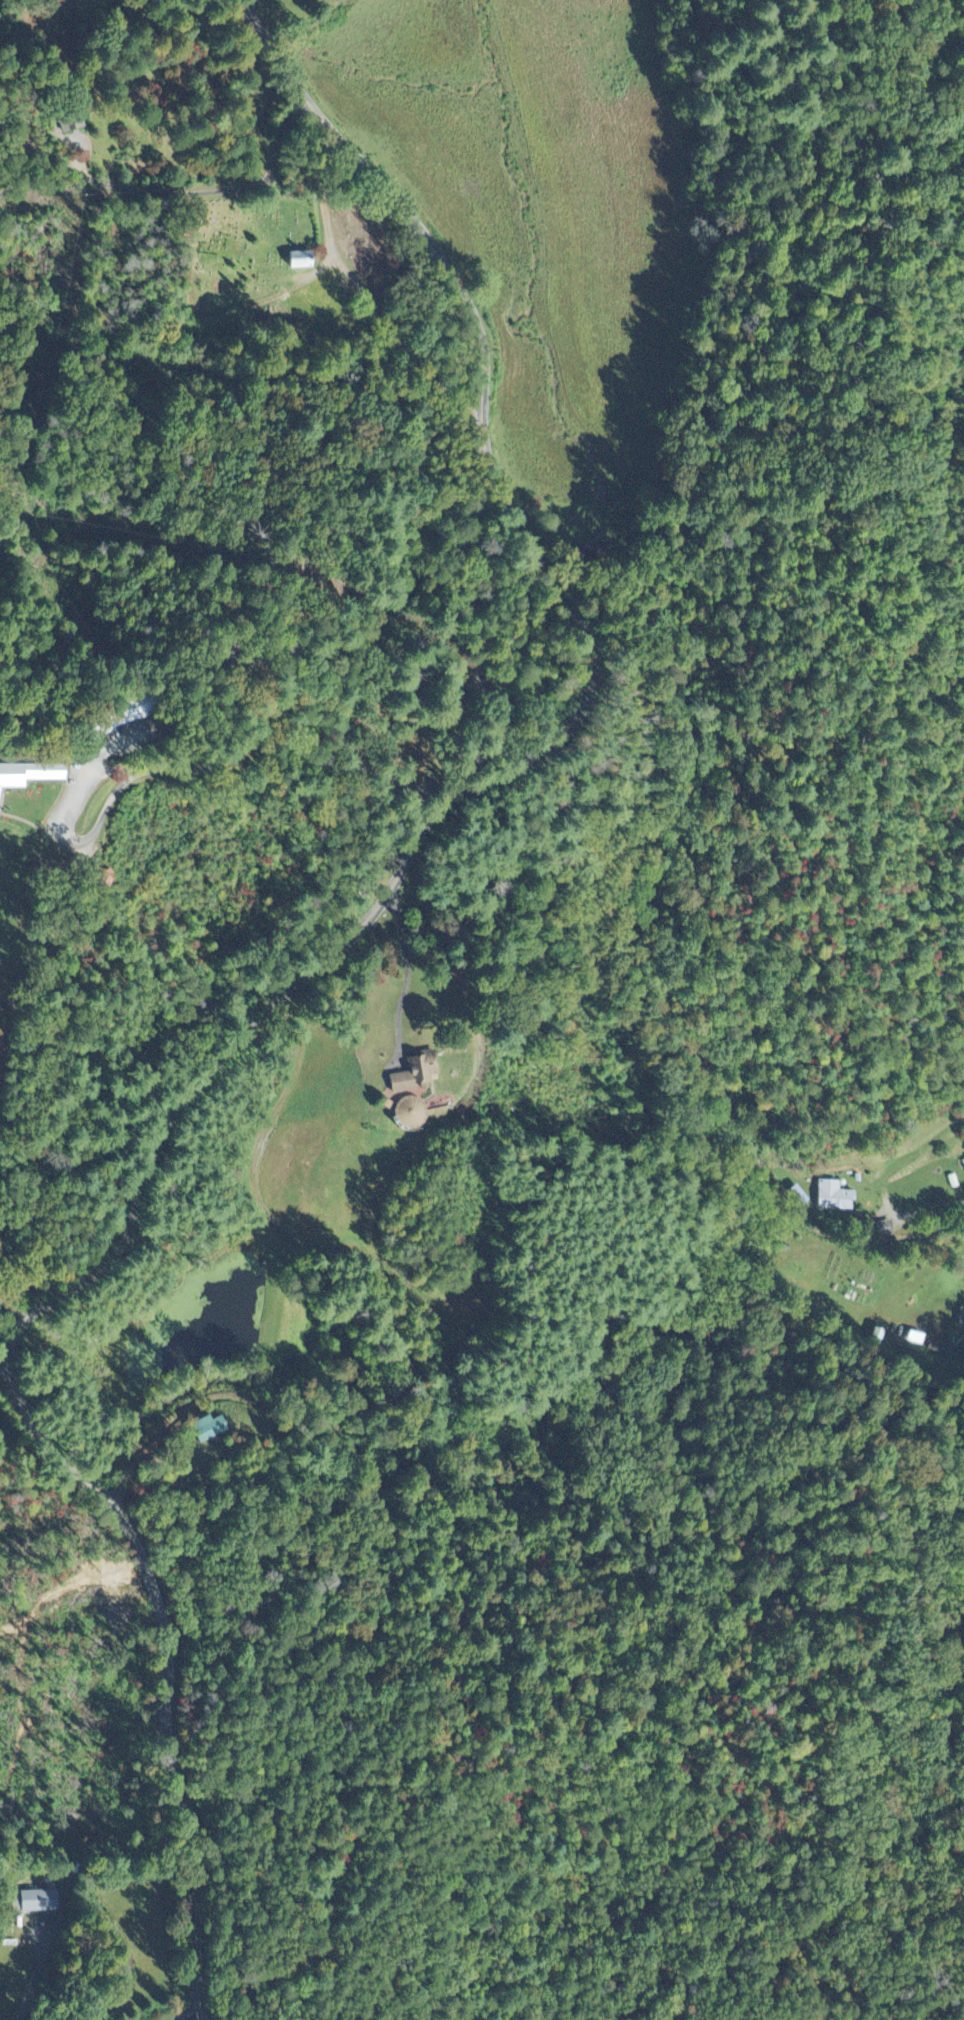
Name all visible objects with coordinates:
road: (169, 193)
park: (246, 247)
building: (306, 257)
road: (192, 341)
road: (439, 389)
road: (426, 594)
road: (565, 734)
building: (29, 776)
road: (117, 874)
road: (405, 975)
building: (418, 1074)
building: (413, 1113)
building: (835, 1197)
road: (28, 1282)
building: (962, 1322)
building: (211, 1429)
road: (169, 1676)
building: (41, 1902)

